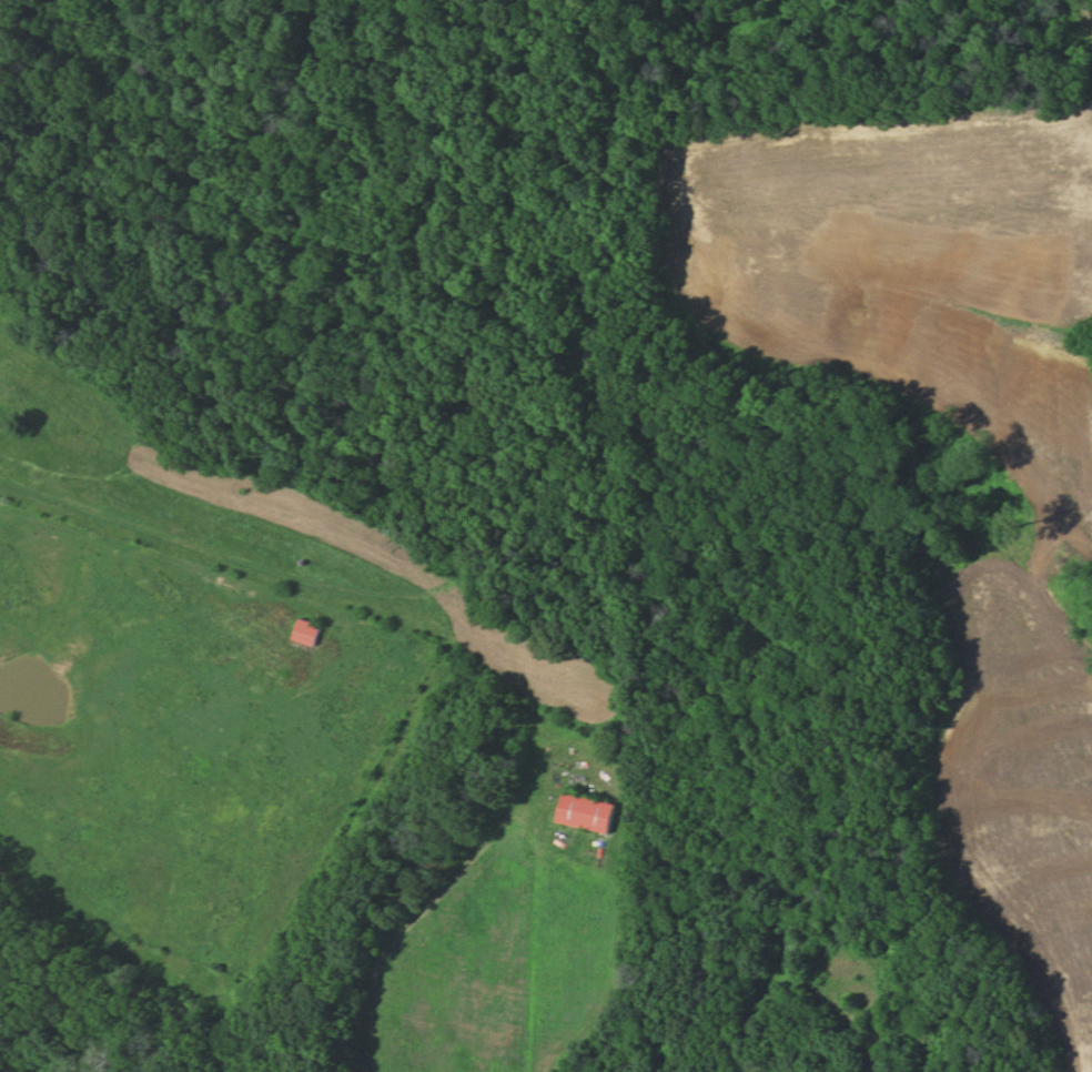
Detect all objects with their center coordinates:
road: (323, 593)
building: (307, 630)
building: (586, 812)

